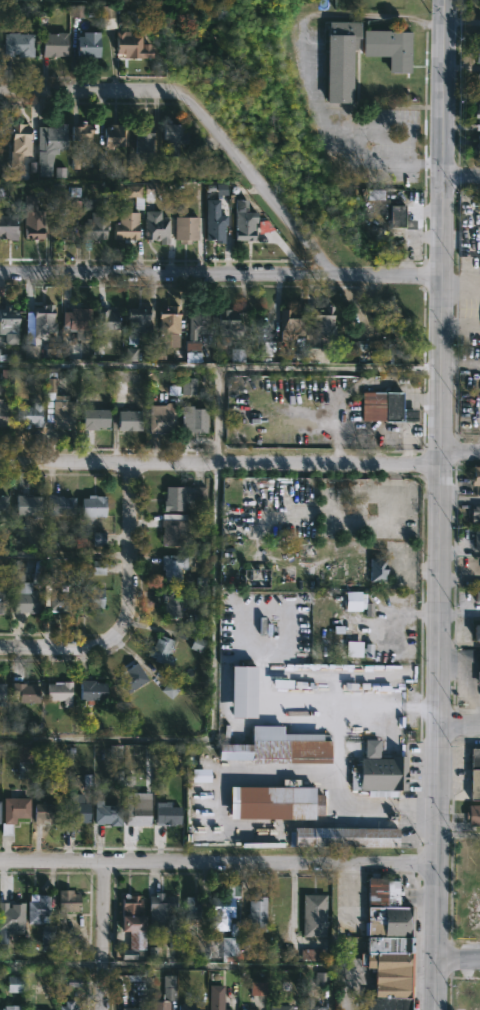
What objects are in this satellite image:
building: (478, 2)
building: (77, 11)
building: (108, 17)
building: (130, 42)
building: (17, 45)
building: (53, 45)
building: (88, 46)
building: (388, 48)
building: (477, 53)
building: (340, 60)
road: (309, 73)
building: (477, 83)
road: (200, 115)
building: (477, 118)
road: (383, 128)
building: (82, 131)
building: (112, 136)
building: (19, 138)
building: (142, 138)
building: (173, 138)
building: (48, 147)
building: (477, 147)
road: (461, 175)
building: (53, 193)
building: (138, 194)
building: (400, 218)
building: (31, 219)
building: (213, 222)
building: (243, 222)
building: (62, 225)
building: (96, 226)
building: (125, 227)
building: (7, 228)
building: (155, 229)
building: (184, 229)
road: (221, 273)
road: (474, 302)
building: (76, 318)
building: (42, 320)
building: (106, 320)
building: (7, 321)
building: (168, 321)
building: (291, 321)
building: (323, 322)
building: (137, 323)
building: (229, 327)
building: (196, 330)
building: (347, 349)
building: (31, 352)
building: (130, 354)
building: (316, 356)
building: (188, 387)
road: (356, 387)
road: (410, 400)
building: (59, 406)
building: (385, 408)
building: (3, 412)
building: (29, 415)
road: (410, 416)
building: (94, 419)
building: (161, 420)
building: (192, 420)
building: (128, 421)
road: (372, 431)
road: (441, 431)
road: (406, 443)
road: (460, 450)
road: (220, 463)
building: (475, 476)
building: (182, 496)
building: (3, 504)
building: (28, 504)
building: (60, 504)
building: (92, 507)
building: (476, 515)
building: (171, 531)
building: (477, 538)
building: (98, 539)
road: (65, 552)
building: (174, 566)
building: (98, 567)
building: (378, 569)
building: (257, 578)
building: (22, 590)
building: (477, 595)
building: (91, 596)
building: (2, 599)
building: (60, 602)
building: (358, 602)
building: (171, 603)
road: (128, 611)
building: (477, 631)
building: (353, 649)
building: (161, 650)
building: (131, 677)
building: (478, 678)
building: (92, 689)
building: (169, 689)
building: (243, 690)
building: (60, 691)
building: (25, 692)
building: (2, 694)
road: (213, 703)
road: (459, 726)
building: (278, 746)
road: (338, 760)
building: (23, 761)
building: (379, 773)
building: (475, 774)
building: (199, 776)
building: (274, 802)
building: (139, 808)
building: (12, 812)
building: (47, 812)
building: (76, 812)
building: (168, 814)
building: (473, 814)
building: (108, 815)
road: (458, 835)
building: (343, 837)
road: (218, 861)
building: (67, 901)
building: (224, 907)
building: (191, 908)
building: (37, 909)
building: (161, 911)
building: (257, 914)
road: (436, 914)
building: (314, 915)
building: (11, 918)
building: (132, 925)
road: (105, 934)
building: (47, 938)
building: (388, 946)
building: (228, 947)
building: (310, 954)
road: (52, 963)
road: (458, 964)
building: (320, 979)
building: (15, 984)
road: (435, 987)
building: (168, 988)
building: (257, 988)
building: (216, 997)
building: (309, 1005)
building: (67, 1006)
building: (158, 1006)
building: (279, 1006)
building: (10, 1007)
building: (188, 1007)
building: (132, 1008)
building: (252, 1009)

